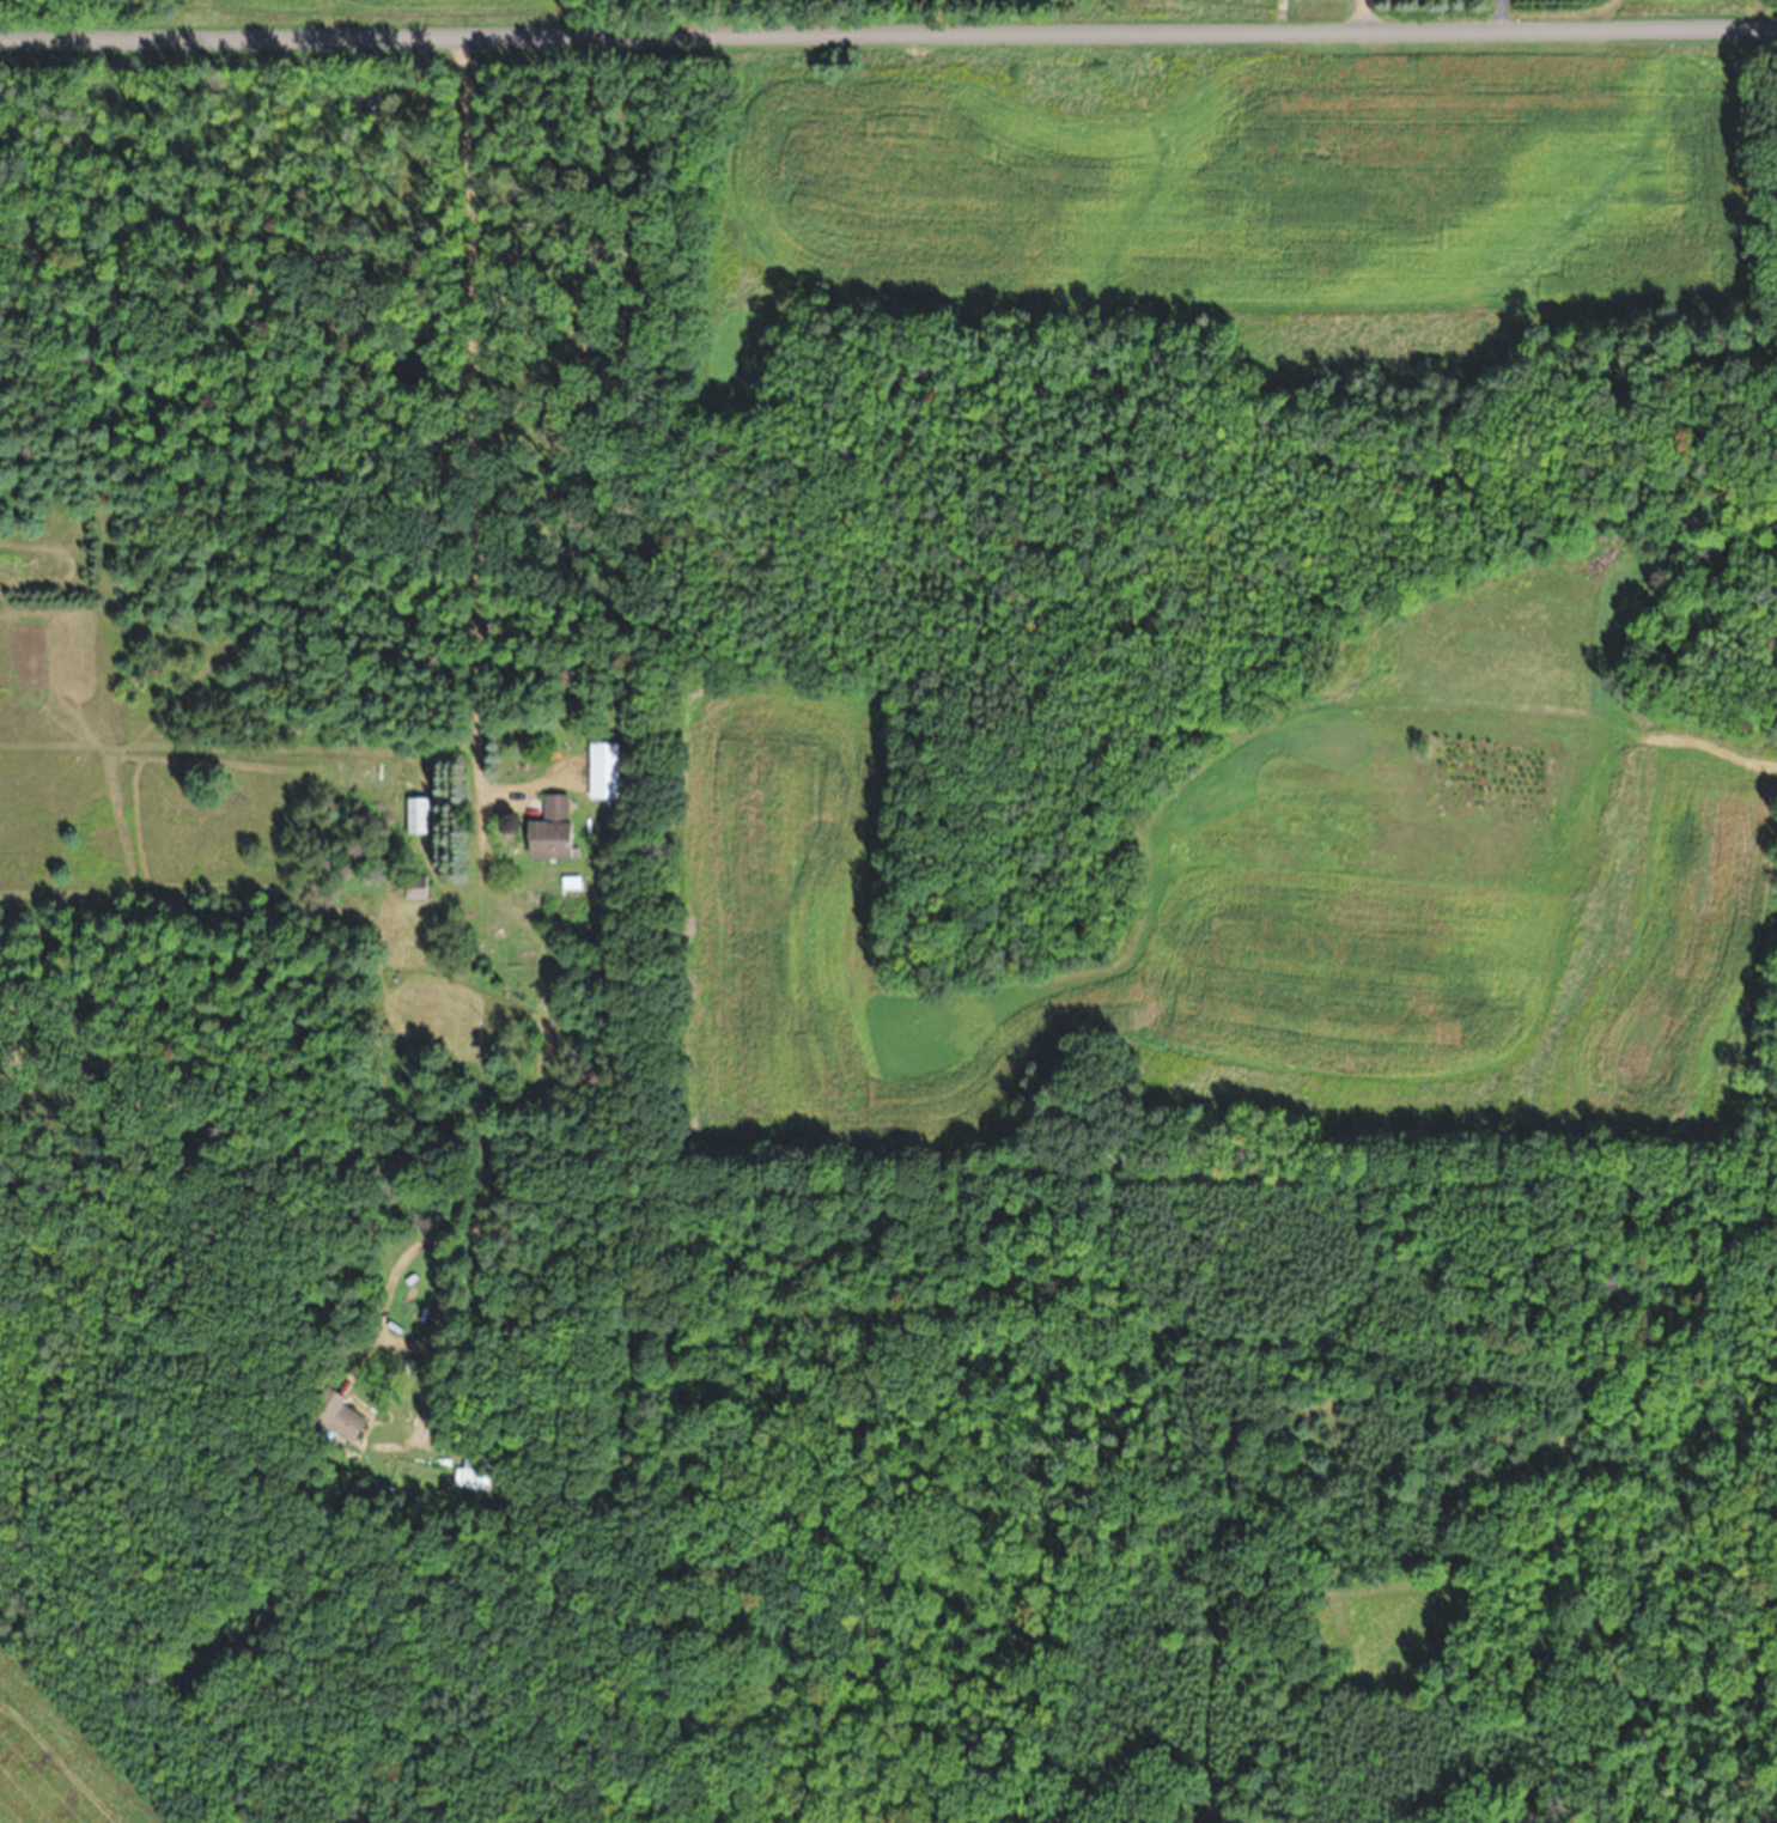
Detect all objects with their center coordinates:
road: (888, 35)
building: (604, 768)
building: (416, 814)
building: (552, 828)
building: (415, 887)
building: (339, 1416)
building: (468, 1470)

